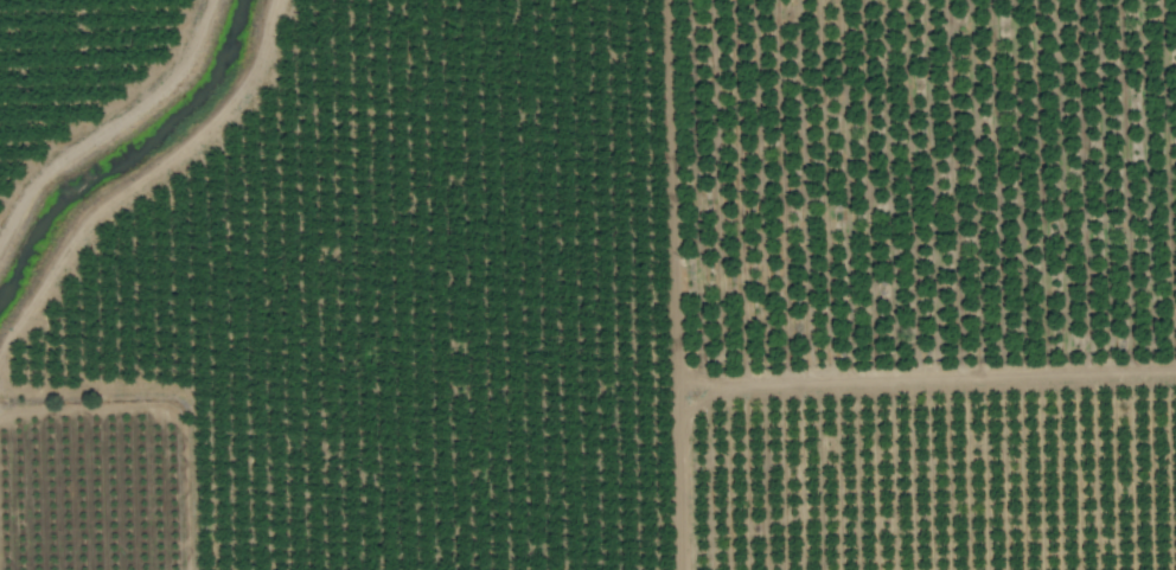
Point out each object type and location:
road: (110, 124)
road: (142, 179)

